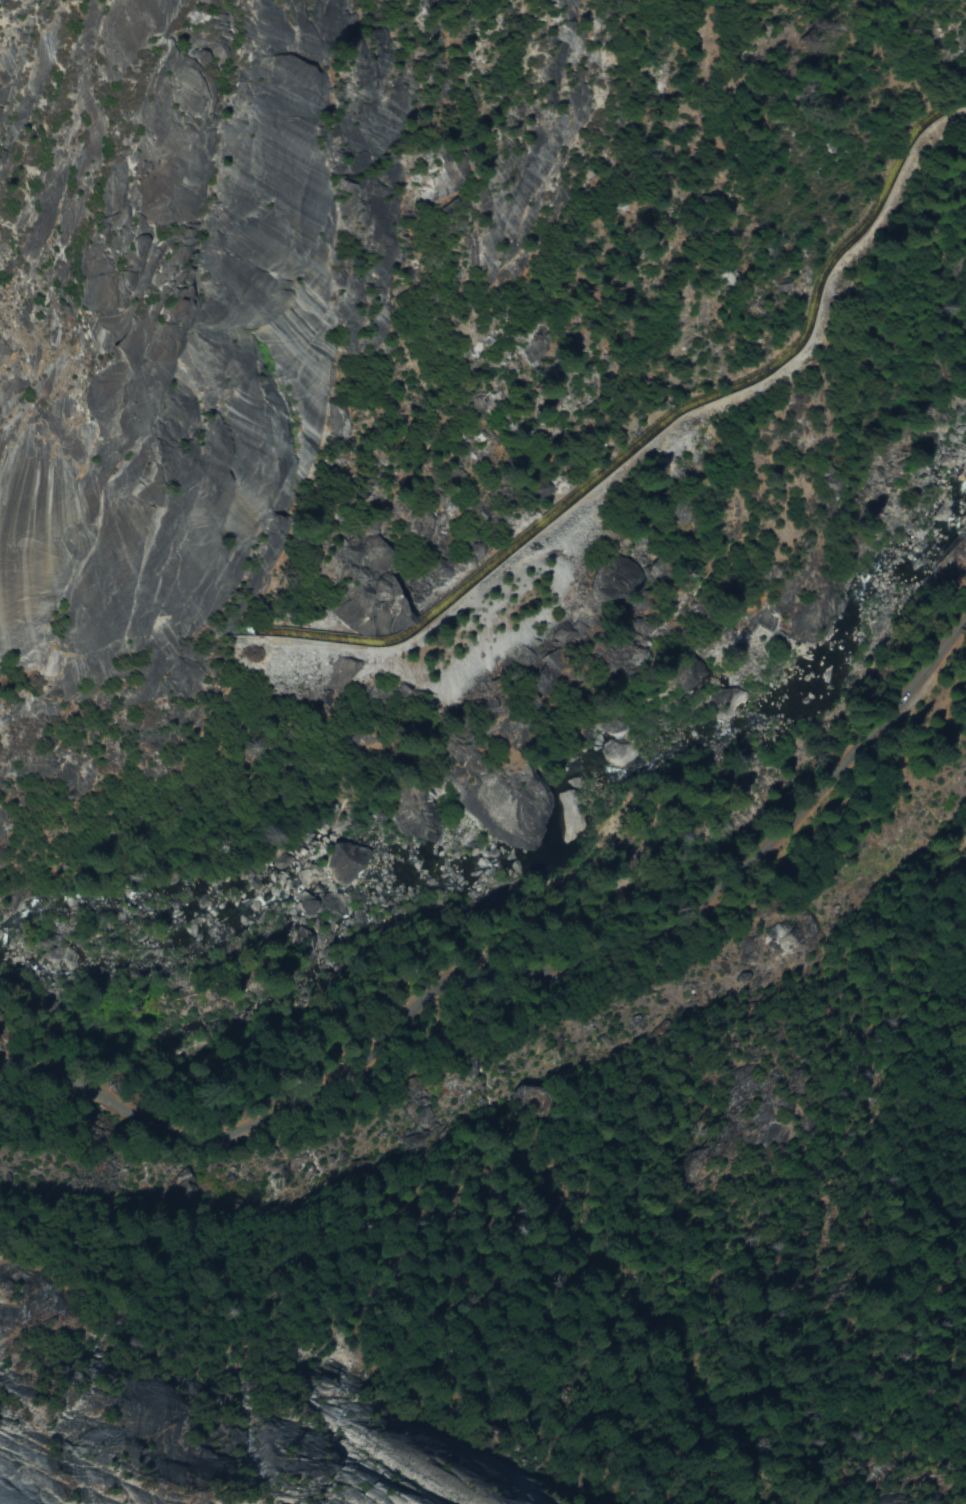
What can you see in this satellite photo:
river: (520, 814)
power tower: (788, 946)
road: (521, 975)
power tower: (550, 1060)
power tower: (274, 1188)

